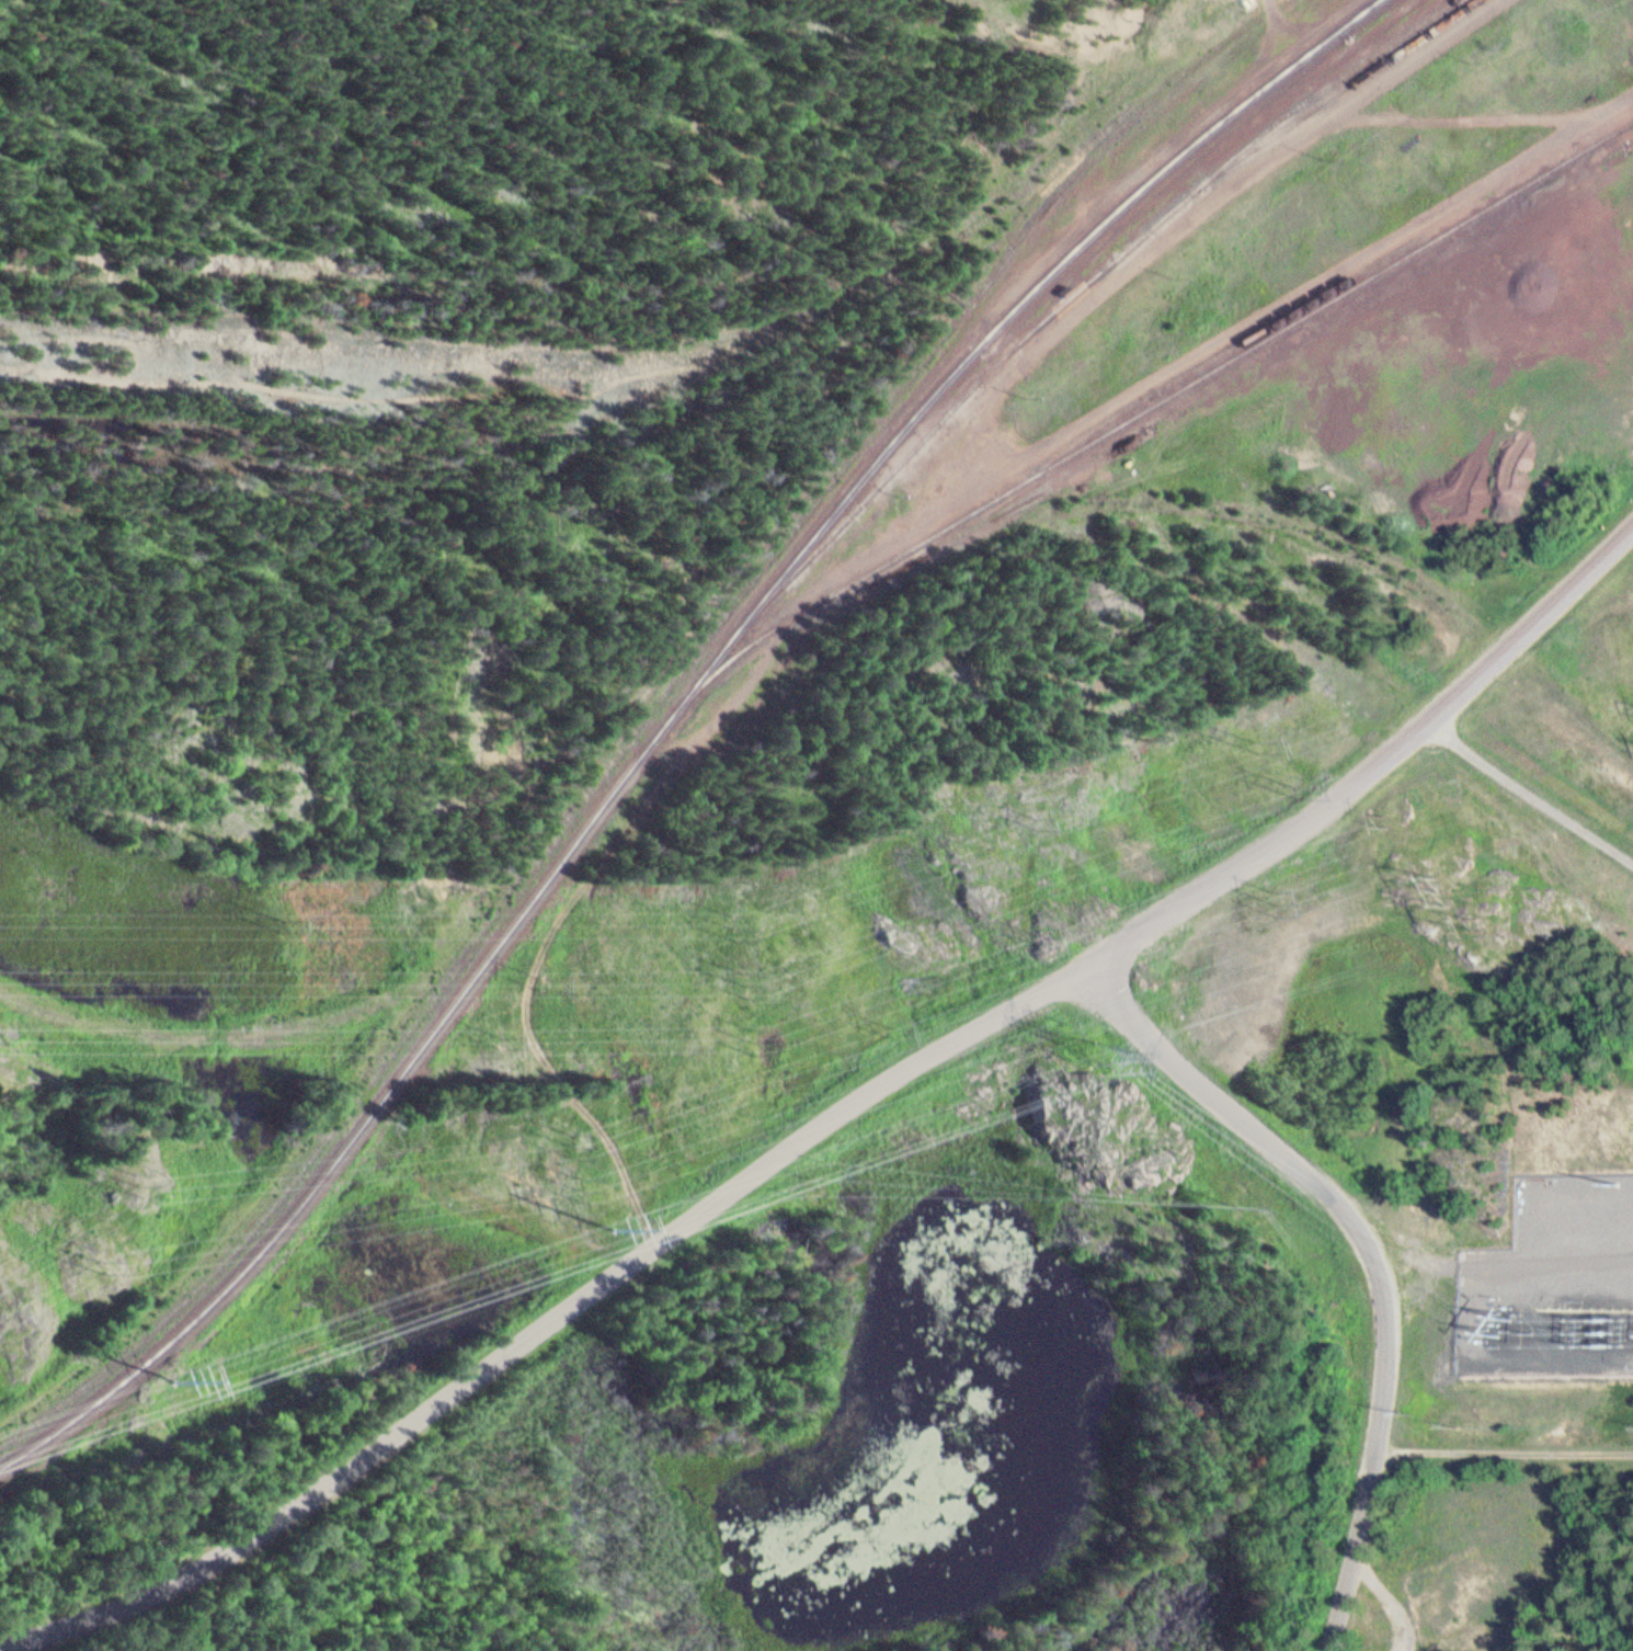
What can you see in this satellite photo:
road: (1275, 24)
railway: (1337, 93)
railway: (1075, 296)
railway: (669, 339)
railway: (1213, 360)
railway: (1138, 415)
road: (1059, 434)
railway: (831, 463)
railway: (674, 718)
railway: (646, 724)
power tower: (1259, 744)
road: (1374, 767)
road: (1530, 789)
power tower: (1302, 793)
power tower: (1395, 818)
power tower: (1038, 822)
power tower: (1451, 886)
power tower: (1278, 899)
power tower: (1489, 923)
power tower: (743, 924)
power tower: (286, 926)
power tower: (1046, 942)
power tower: (550, 981)
power tower: (752, 982)
power tower: (1065, 1021)
power tower: (900, 1032)
power tower: (504, 1038)
power tower: (762, 1039)
power tower: (1111, 1059)
road: (552, 1068)
road: (1249, 1121)
power tower: (575, 1141)
power tower: (587, 1183)
power tower: (141, 1184)
power tower: (614, 1228)
power tower: (103, 1262)
power substation: (1554, 1279)
road: (549, 1320)
power tower: (180, 1380)
road: (1505, 1448)
road: (1371, 1476)

